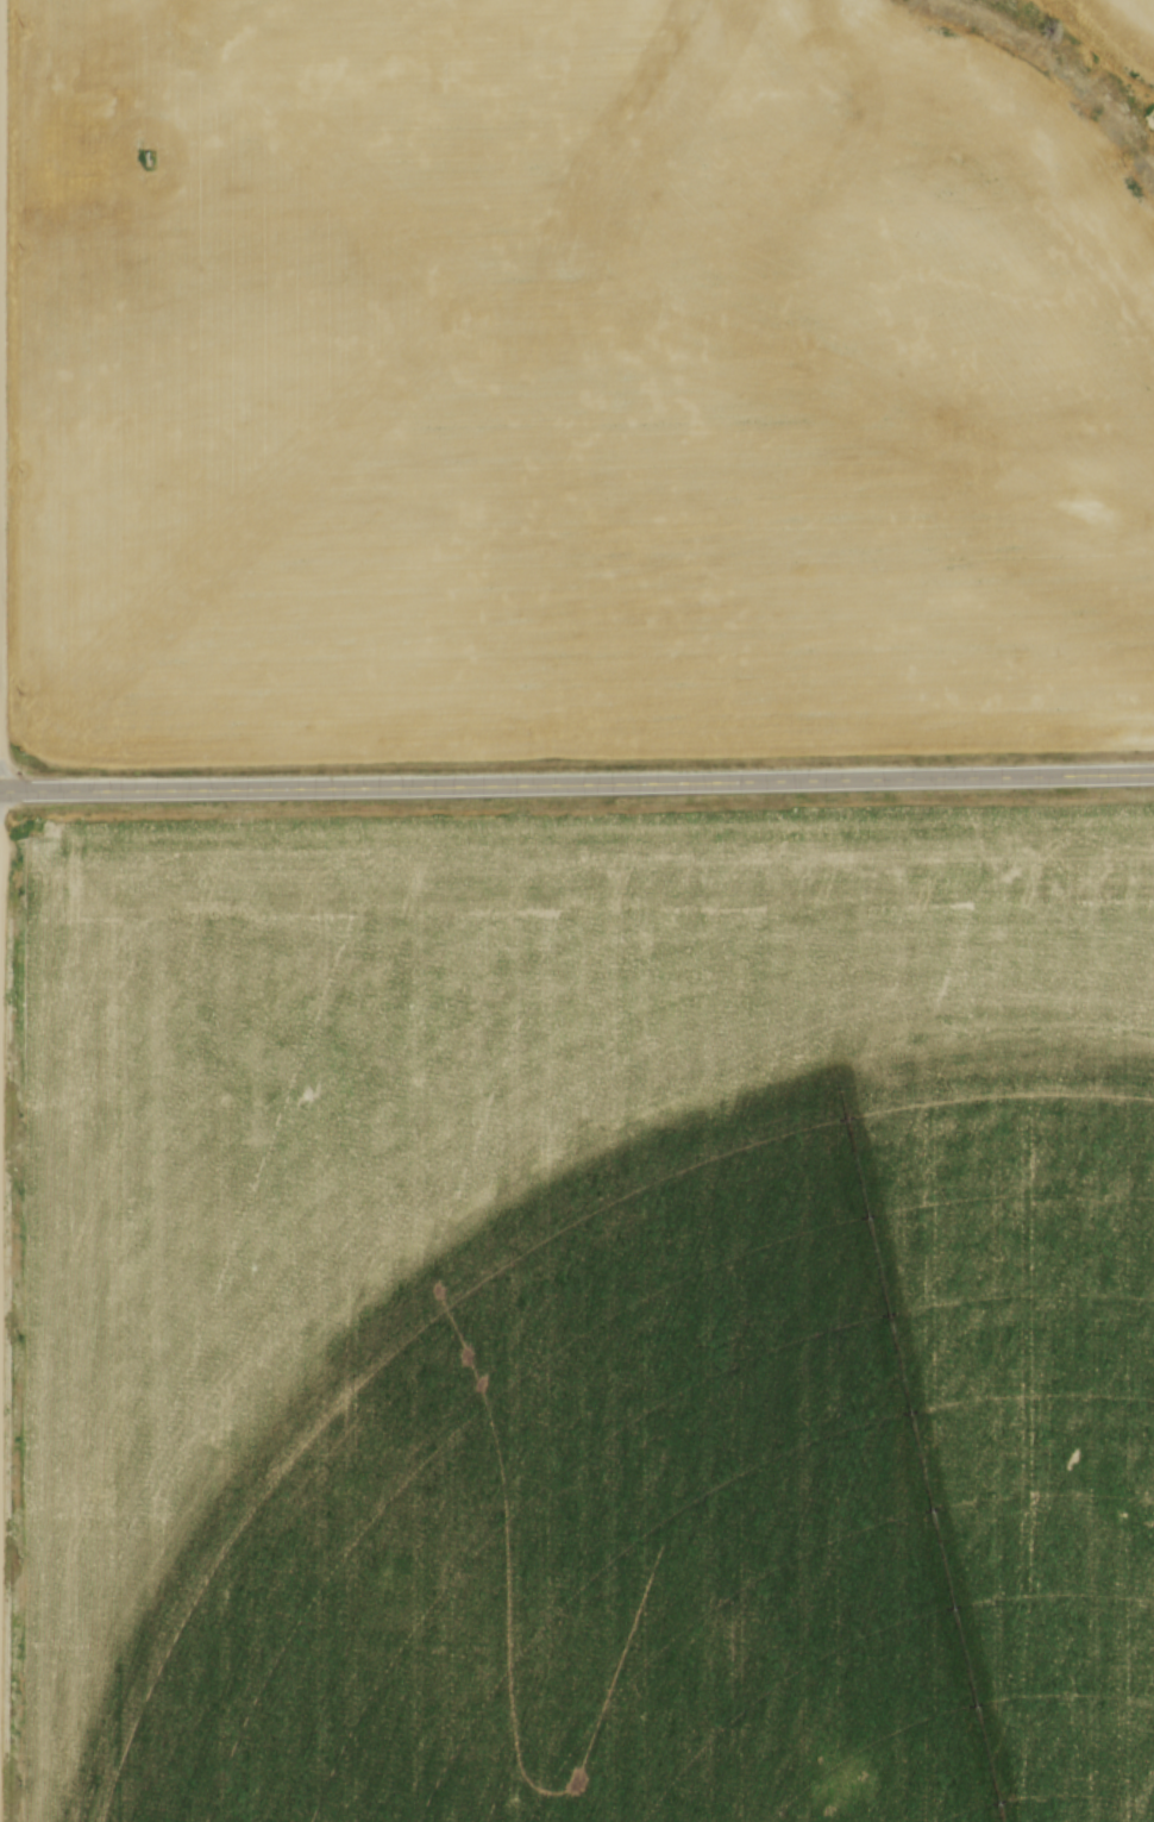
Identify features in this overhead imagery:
crop: (1123, 24)
crop: (569, 386)
road: (577, 782)
crop: (588, 1315)

